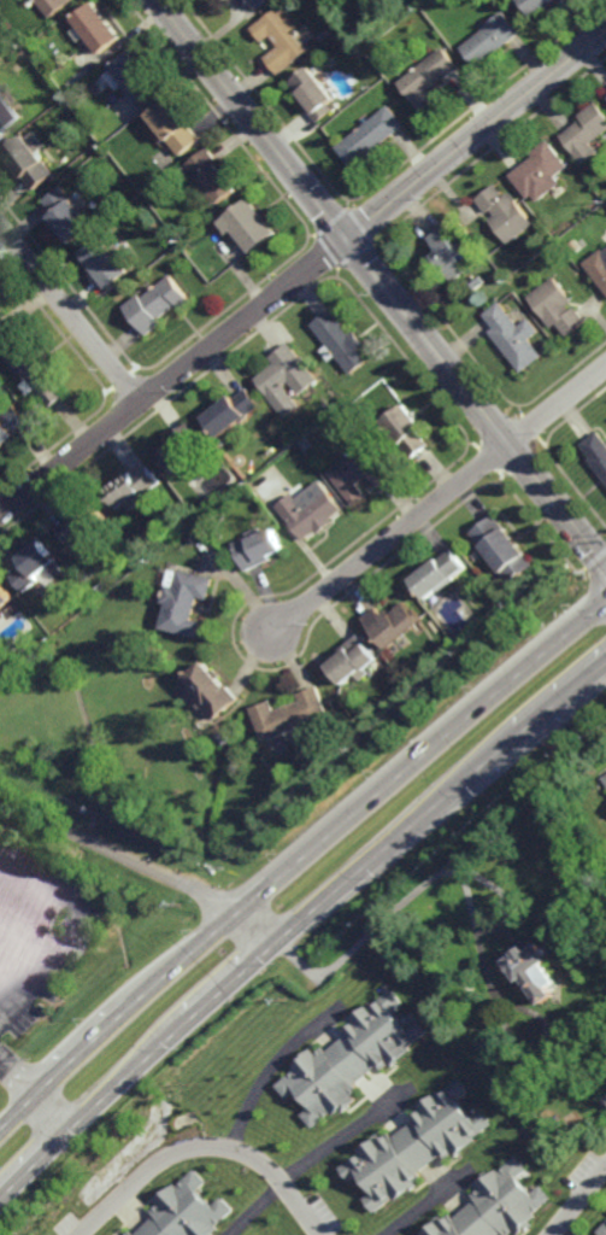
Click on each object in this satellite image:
building: (219, 0)
building: (258, 2)
building: (542, 4)
building: (53, 5)
building: (99, 27)
building: (283, 39)
building: (492, 39)
building: (25, 58)
building: (137, 76)
building: (429, 77)
building: (312, 92)
building: (8, 111)
road: (251, 118)
building: (177, 127)
building: (587, 133)
road: (476, 134)
building: (370, 136)
building: (31, 158)
building: (541, 171)
building: (214, 172)
building: (505, 213)
building: (69, 215)
building: (248, 224)
building: (446, 256)
building: (107, 263)
building: (598, 268)
building: (158, 304)
building: (555, 308)
road: (70, 311)
building: (2, 332)
building: (512, 338)
building: (340, 343)
building: (39, 373)
road: (172, 375)
building: (286, 380)
road: (476, 402)
building: (233, 412)
building: (11, 426)
building: (407, 432)
building: (184, 449)
building: (596, 453)
building: (360, 473)
building: (133, 488)
road: (436, 501)
building: (310, 515)
building: (83, 525)
building: (502, 550)
building: (255, 551)
building: (36, 564)
building: (440, 576)
building: (5, 598)
building: (187, 602)
building: (393, 625)
building: (353, 663)
building: (211, 691)
building: (293, 714)
building: (224, 738)
building: (604, 780)
road: (294, 862)
road: (143, 865)
road: (469, 903)
parking lot: (45, 917)
road: (299, 924)
road: (64, 932)
road: (28, 935)
building: (533, 967)
road: (14, 989)
building: (590, 1020)
building: (349, 1055)
road: (267, 1066)
road: (36, 1090)
building: (605, 1099)
road: (204, 1146)
building: (413, 1147)
road: (316, 1158)
road: (577, 1200)
road: (426, 1201)
building: (495, 1206)
building: (187, 1210)
road: (567, 1228)
building: (601, 1230)

